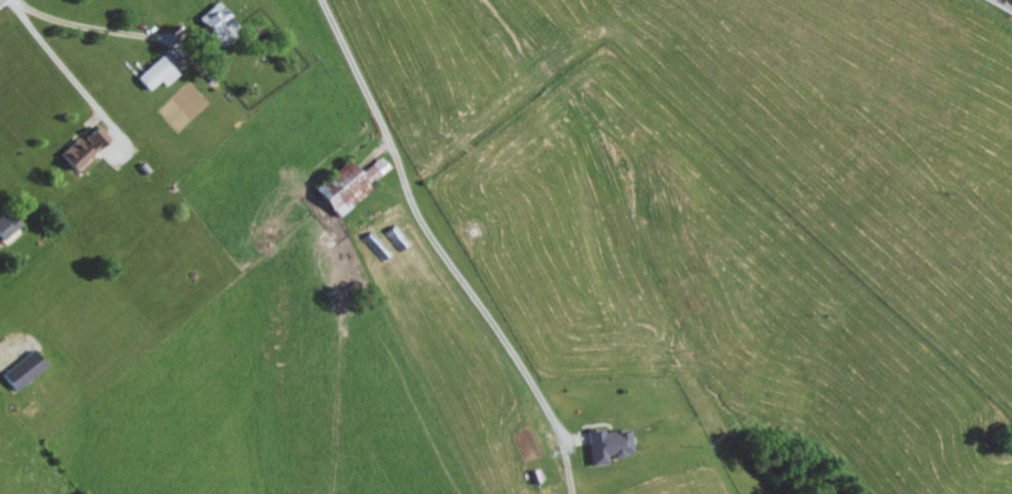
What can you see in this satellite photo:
road: (0, 0)
road: (1005, 3)
building: (219, 21)
building: (156, 71)
building: (82, 145)
building: (351, 182)
building: (7, 222)
building: (11, 233)
building: (23, 367)
building: (608, 443)

